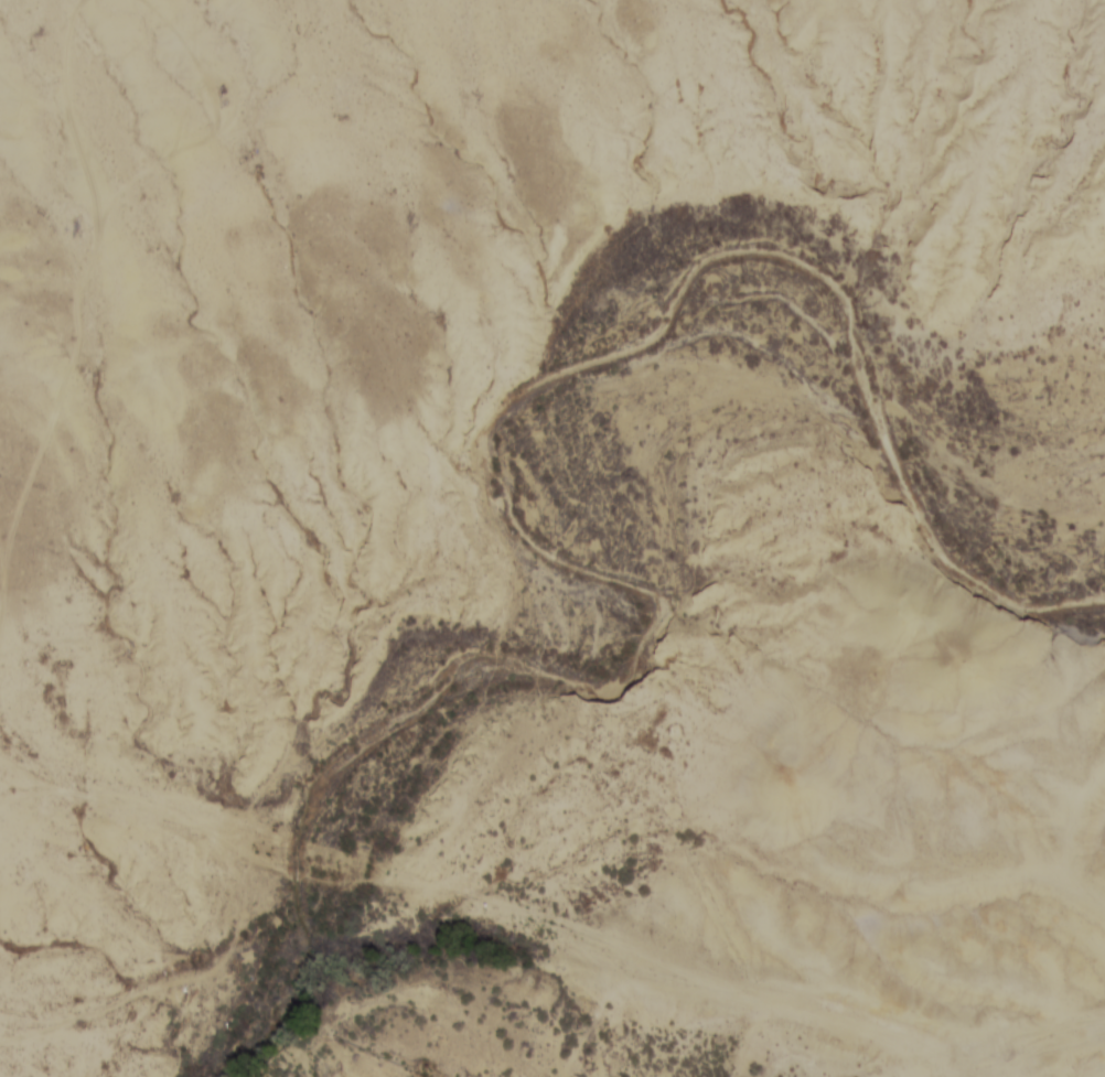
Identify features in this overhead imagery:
river: (547, 505)
road: (120, 997)

